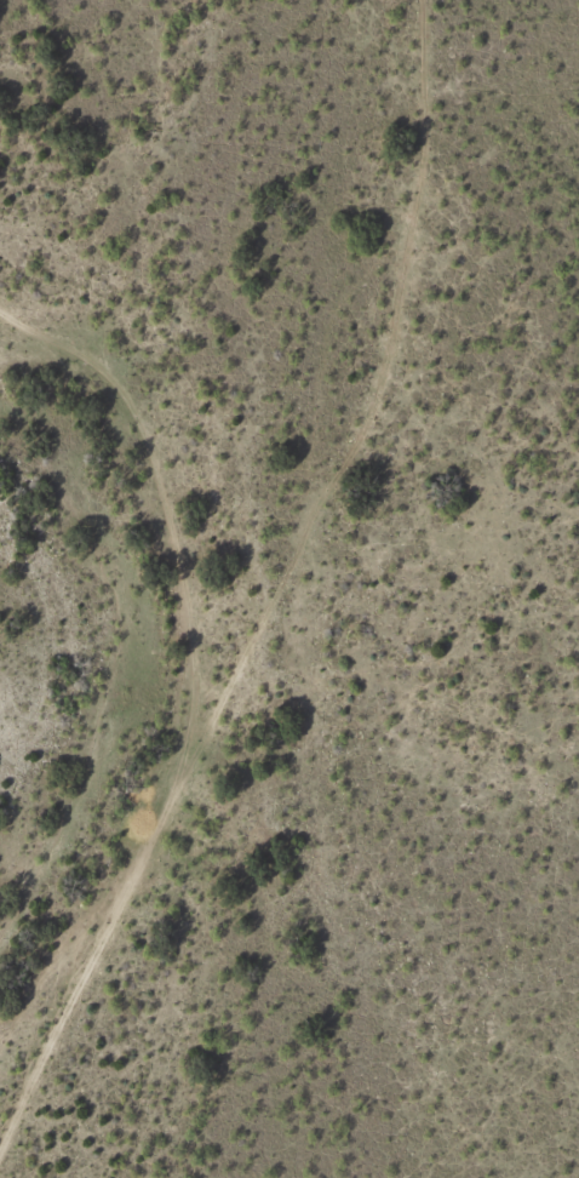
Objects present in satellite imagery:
road: (119, 485)
road: (262, 576)

